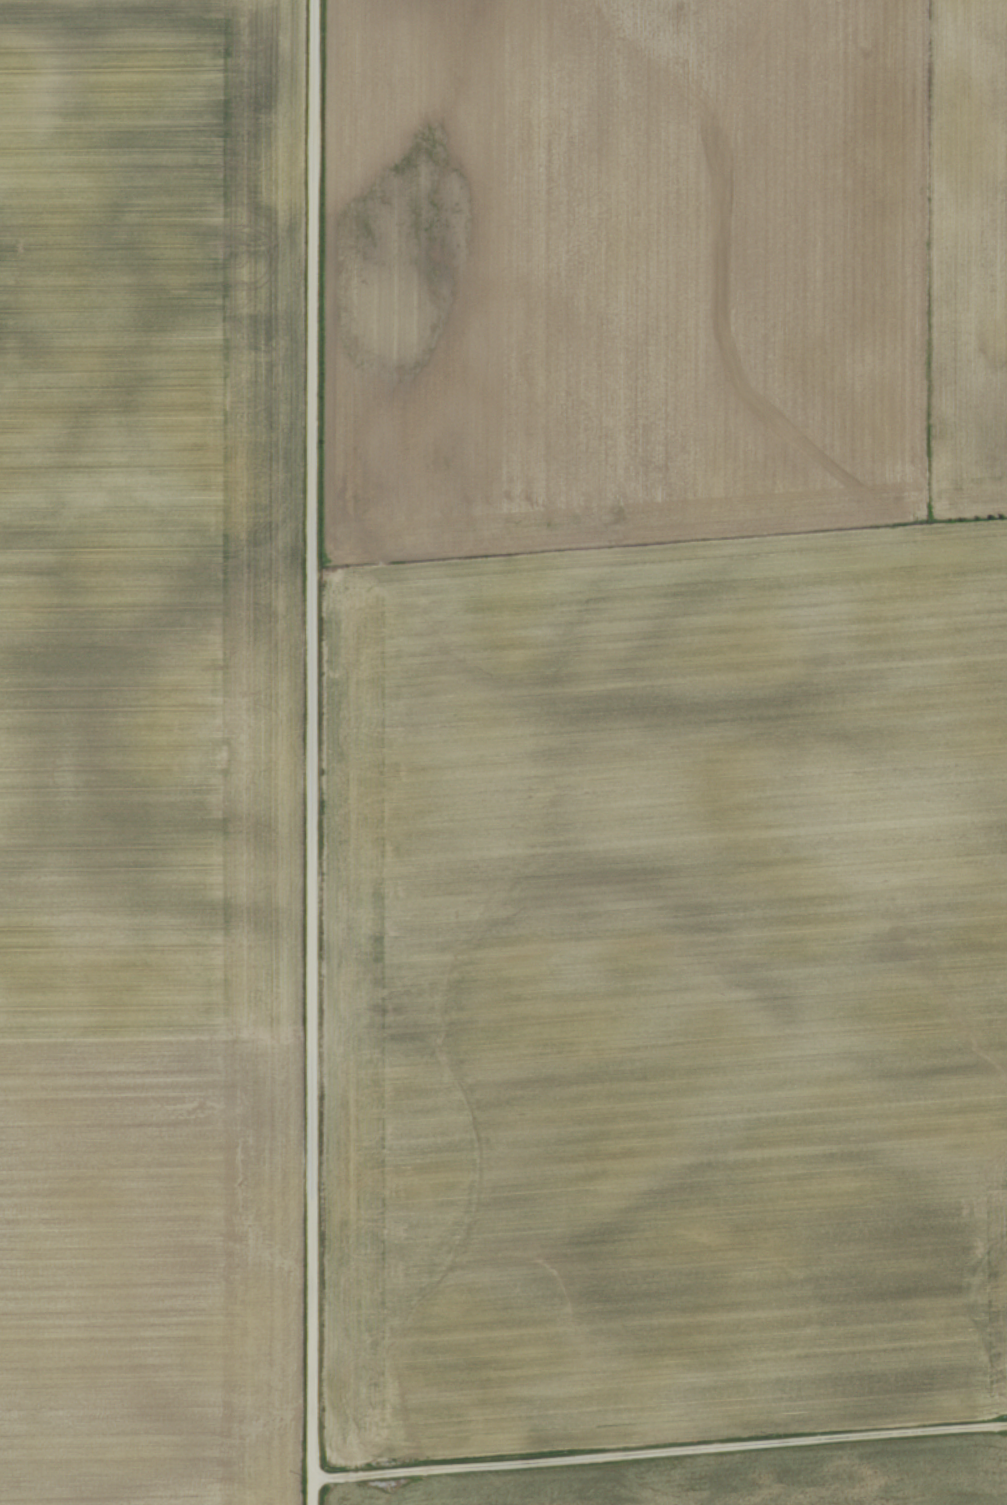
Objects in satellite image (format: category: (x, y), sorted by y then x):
road: (304, 752)
road: (652, 1452)

